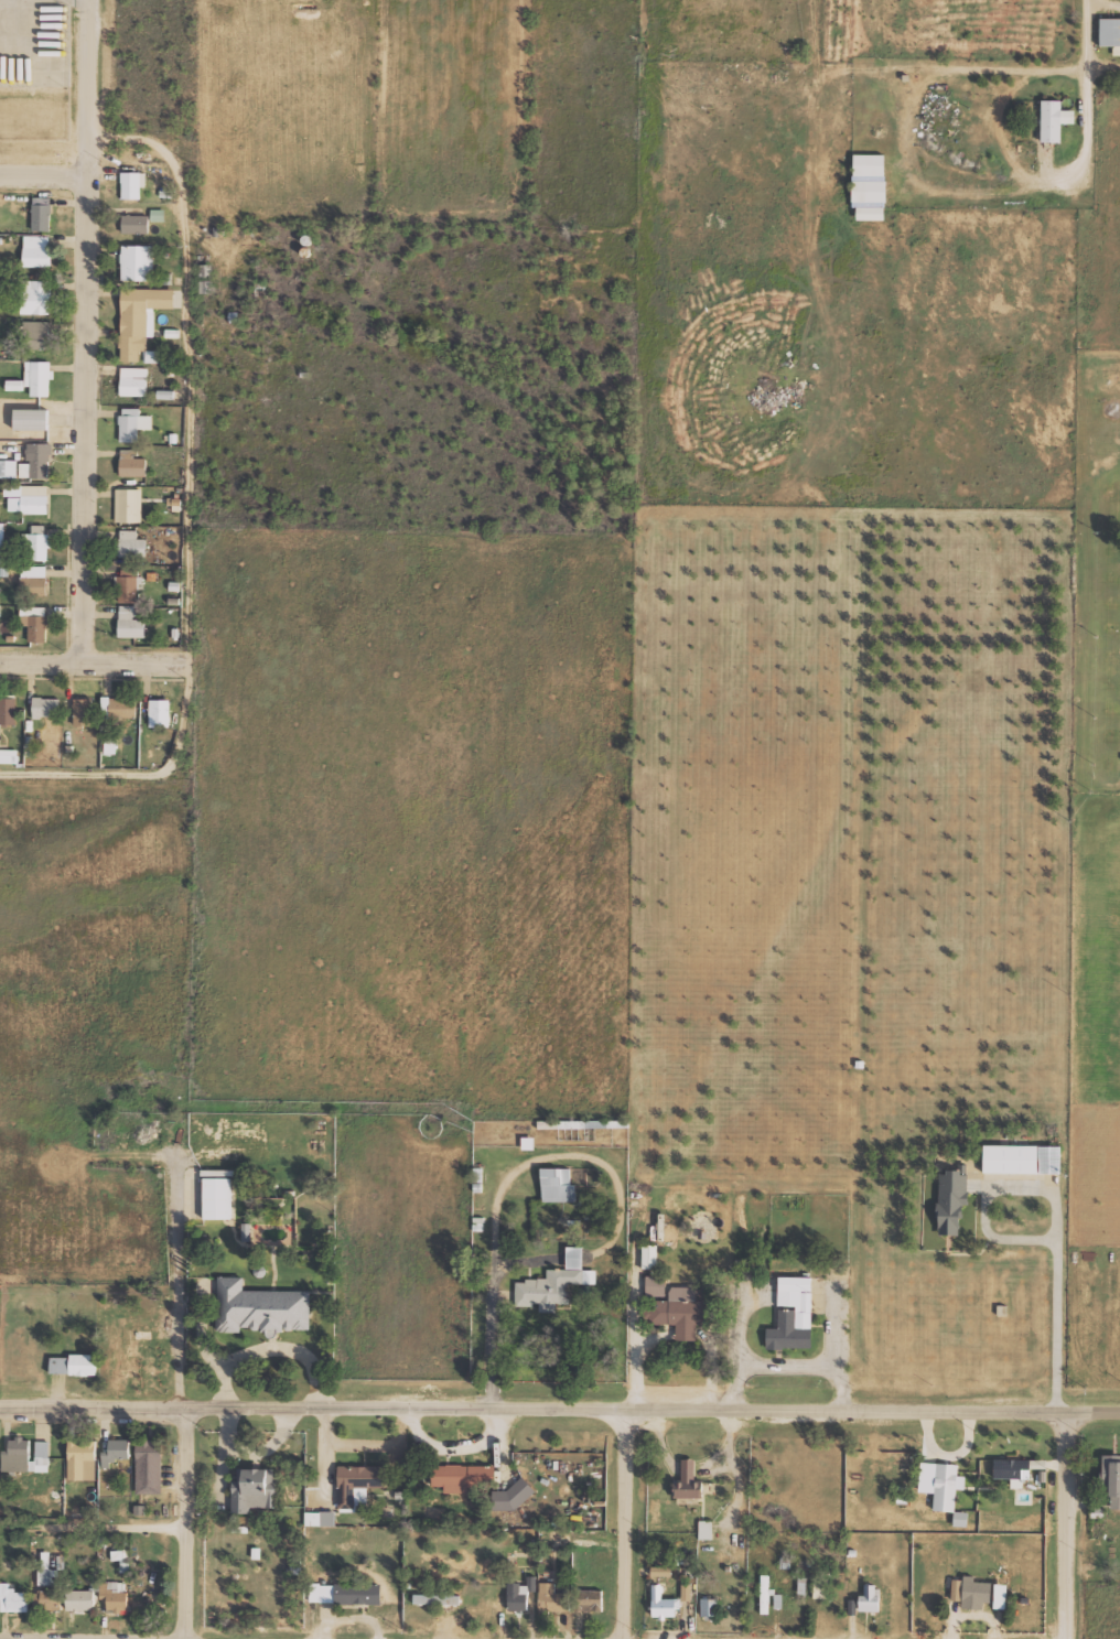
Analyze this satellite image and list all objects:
building: (1109, 34)
road: (1085, 114)
building: (1048, 128)
building: (866, 168)
road: (45, 179)
building: (132, 184)
building: (866, 193)
building: (41, 214)
building: (868, 214)
building: (158, 215)
building: (134, 224)
building: (36, 250)
building: (137, 262)
building: (35, 296)
building: (140, 317)
road: (86, 331)
building: (36, 335)
building: (152, 356)
building: (39, 377)
building: (133, 381)
building: (14, 385)
building: (31, 419)
building: (132, 423)
building: (36, 461)
building: (132, 464)
building: (8, 467)
building: (26, 498)
building: (128, 505)
road: (186, 505)
building: (37, 542)
building: (2, 543)
building: (131, 543)
building: (34, 580)
building: (129, 584)
building: (35, 622)
building: (130, 623)
road: (39, 661)
road: (131, 662)
building: (46, 708)
building: (119, 708)
building: (8, 711)
building: (83, 712)
building: (160, 712)
building: (109, 744)
building: (9, 756)
building: (528, 1143)
building: (1023, 1160)
building: (558, 1185)
building: (217, 1194)
building: (952, 1201)
building: (649, 1257)
building: (554, 1284)
building: (675, 1307)
building: (261, 1308)
building: (793, 1315)
building: (83, 1365)
road: (534, 1409)
road: (1094, 1413)
building: (116, 1451)
building: (25, 1456)
building: (82, 1459)
building: (149, 1466)
building: (1013, 1468)
building: (1111, 1476)
building: (464, 1477)
building: (357, 1480)
building: (689, 1480)
building: (926, 1484)
building: (947, 1486)
building: (254, 1488)
building: (514, 1494)
building: (320, 1518)
road: (189, 1522)
road: (627, 1524)
road: (1067, 1525)
building: (706, 1529)
building: (46, 1559)
building: (121, 1559)
building: (661, 1570)
building: (46, 1576)
building: (803, 1585)
building: (820, 1587)
building: (957, 1588)
building: (687, 1591)
building: (976, 1592)
building: (345, 1593)
building: (520, 1593)
building: (115, 1594)
building: (765, 1594)
building: (1001, 1595)
building: (552, 1597)
building: (870, 1597)
building: (13, 1598)
building: (80, 1598)
building: (51, 1599)
building: (589, 1599)
building: (778, 1600)
building: (664, 1603)

